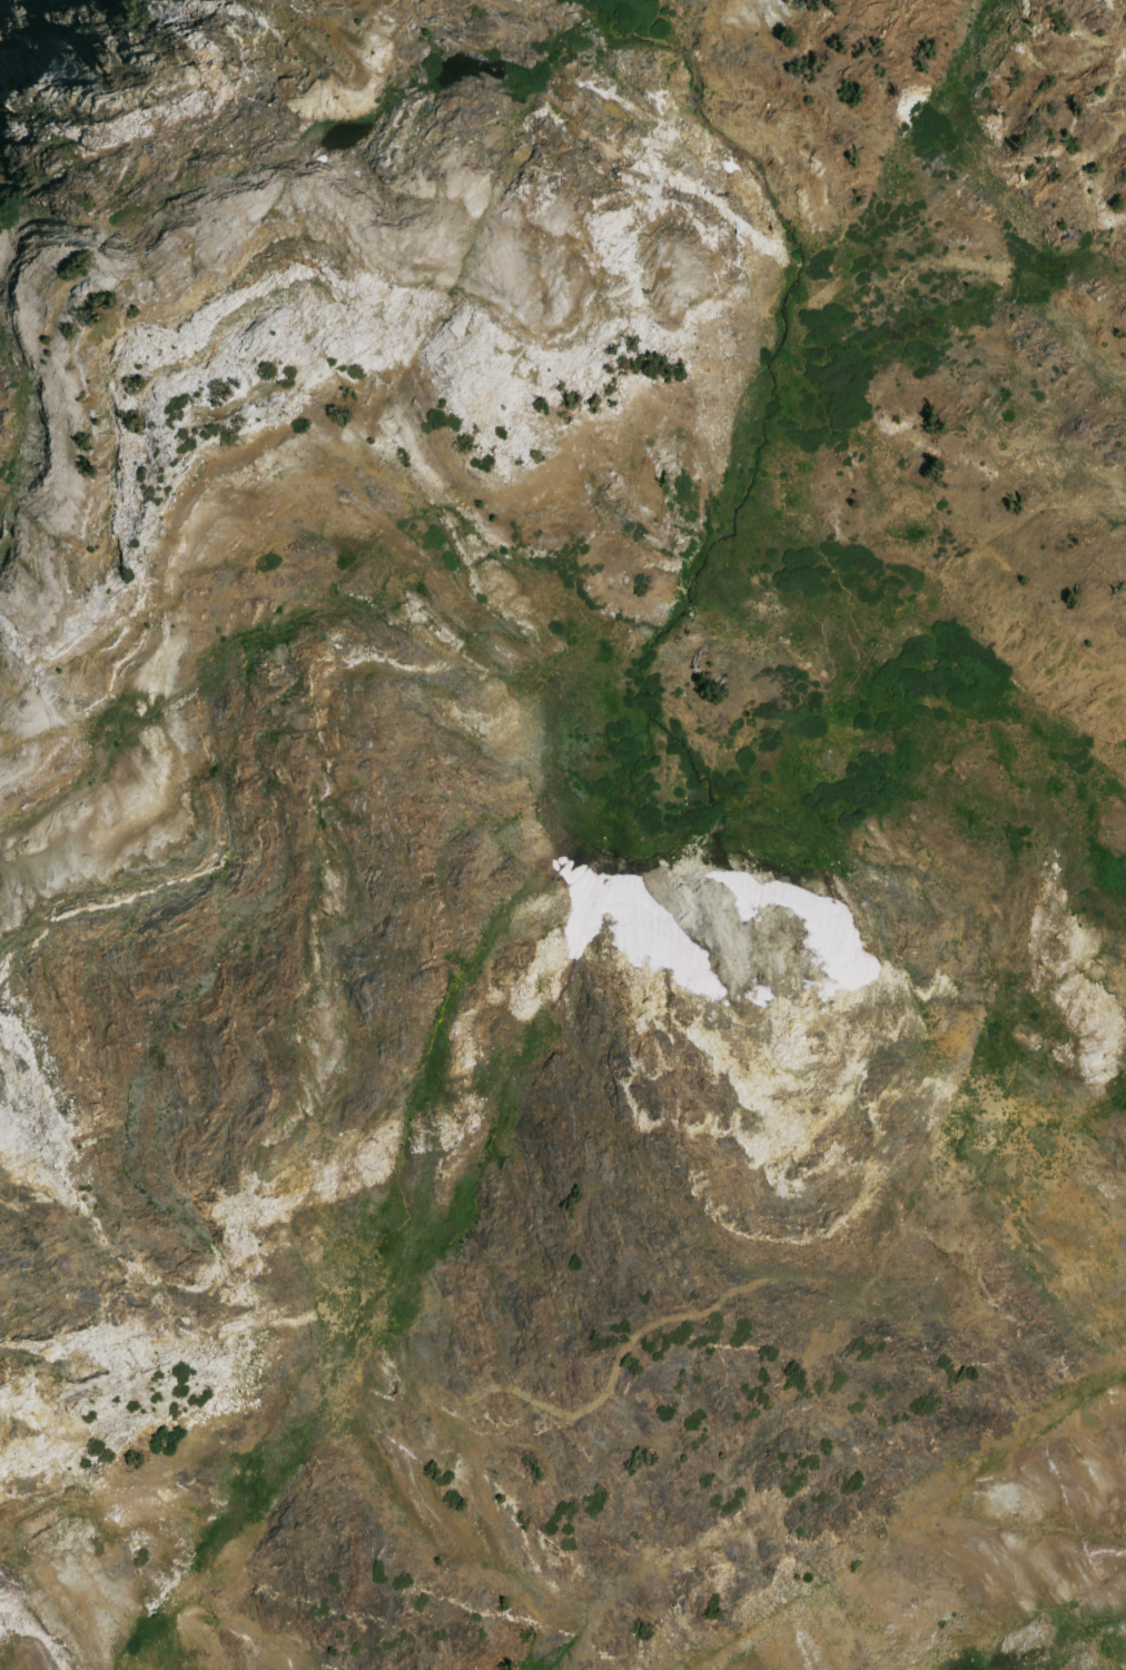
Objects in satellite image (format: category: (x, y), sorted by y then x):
road: (1084, 261)
road: (980, 1045)

